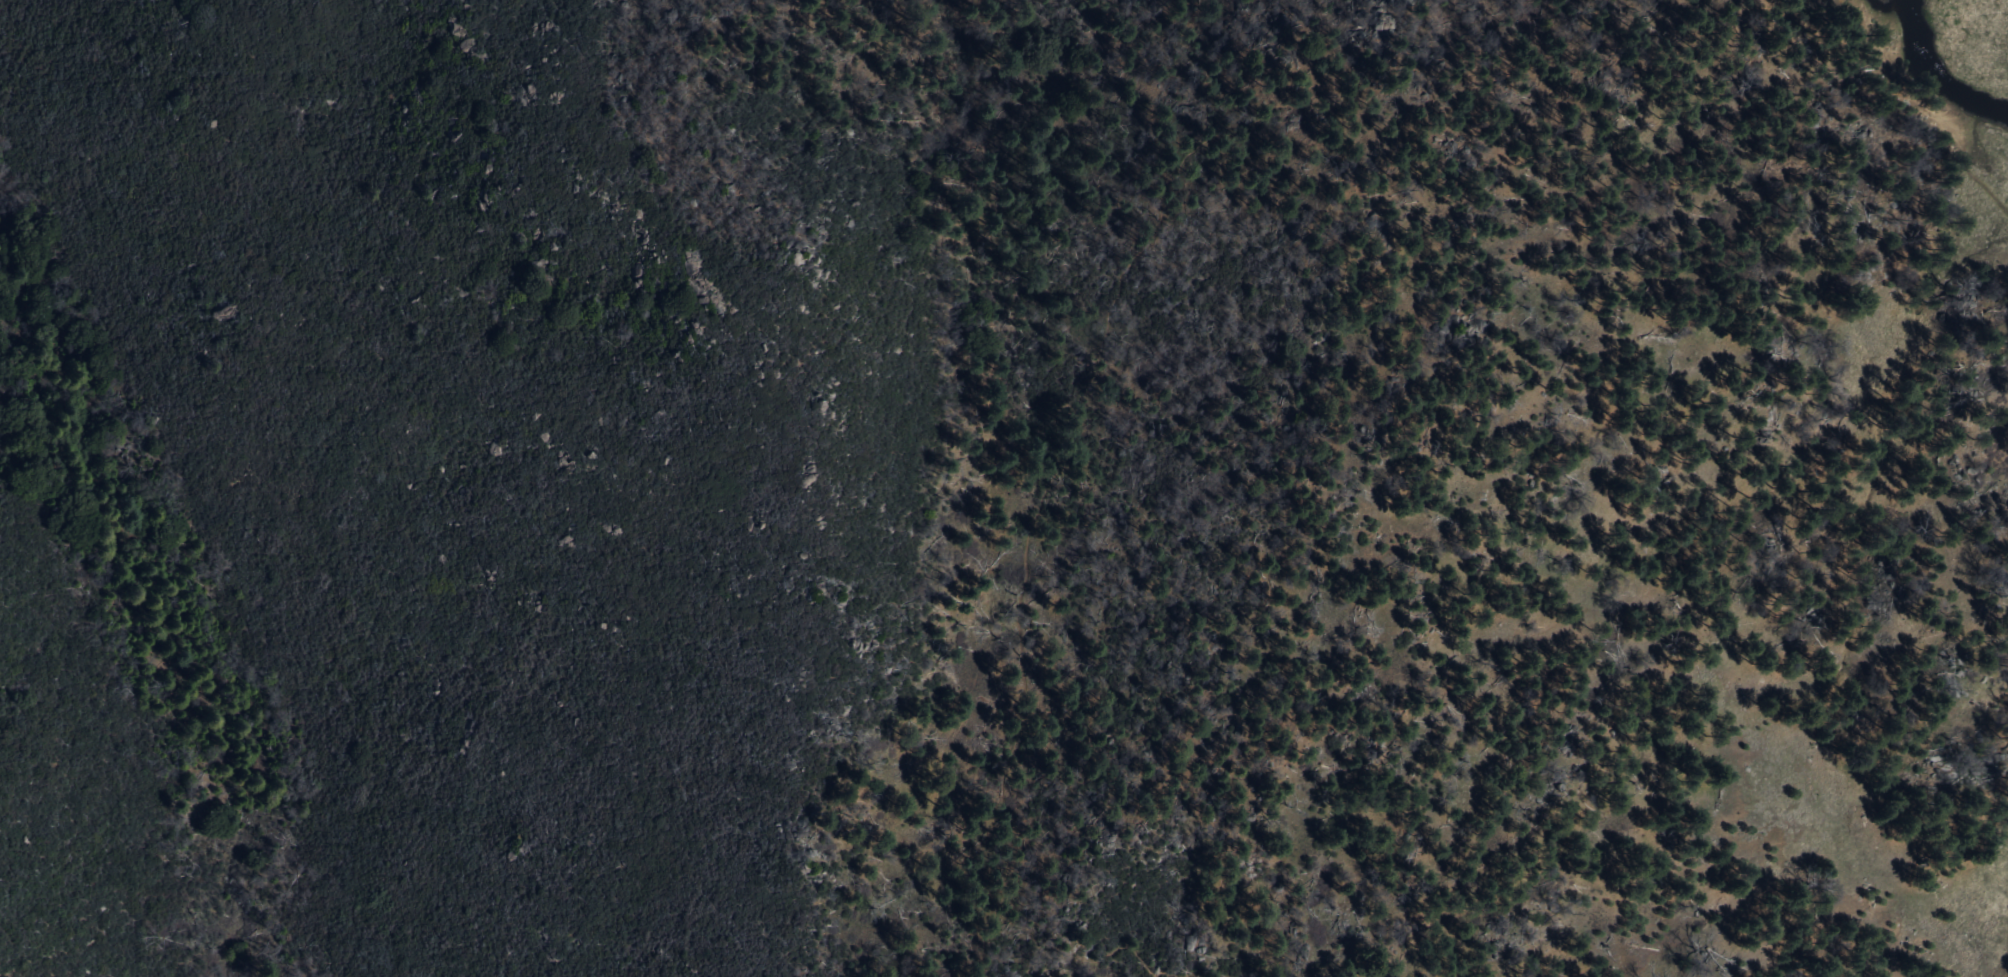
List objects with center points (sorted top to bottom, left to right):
road: (1851, 20)
road: (1934, 120)
road: (1124, 274)
road: (1207, 975)

